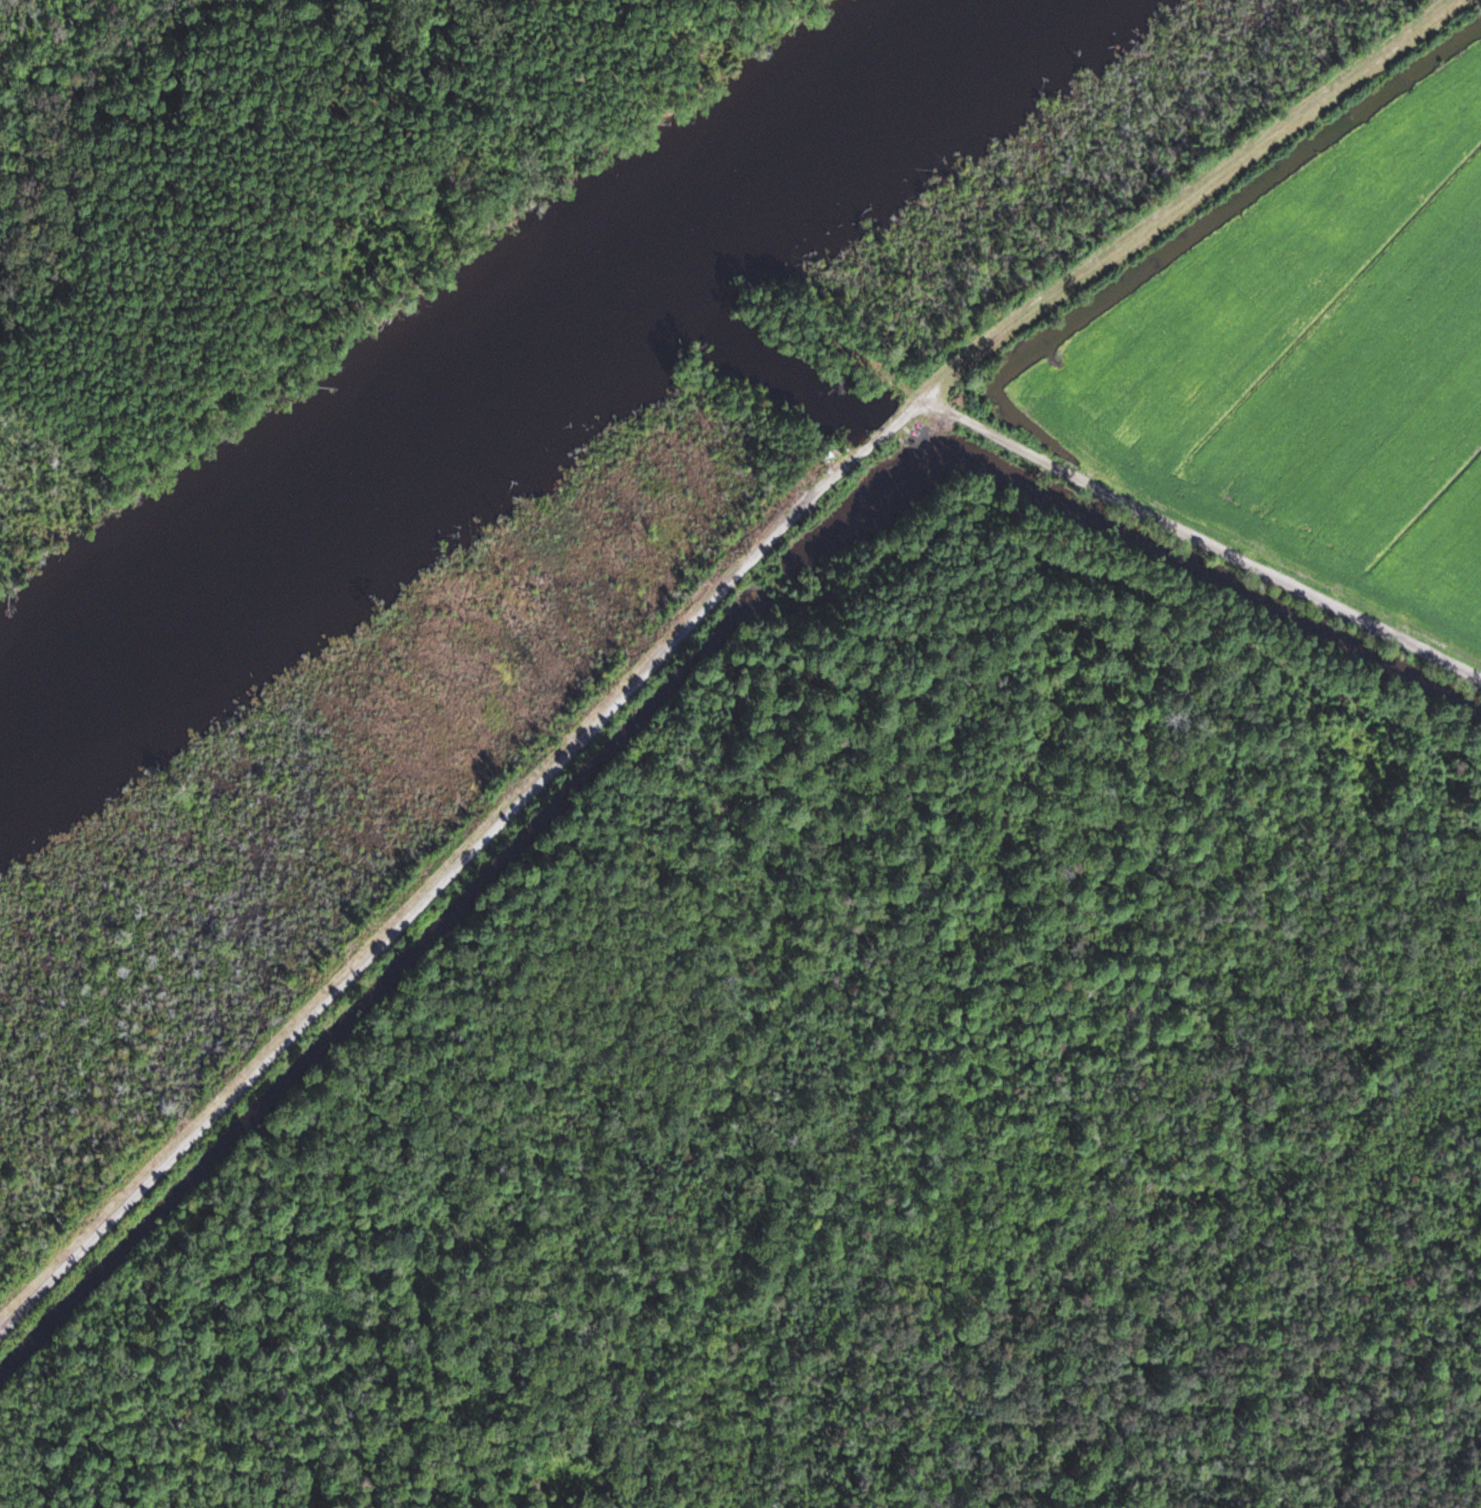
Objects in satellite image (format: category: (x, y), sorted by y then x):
road: (1180, 194)
crop: (1318, 356)
road: (1199, 537)
road: (459, 863)

